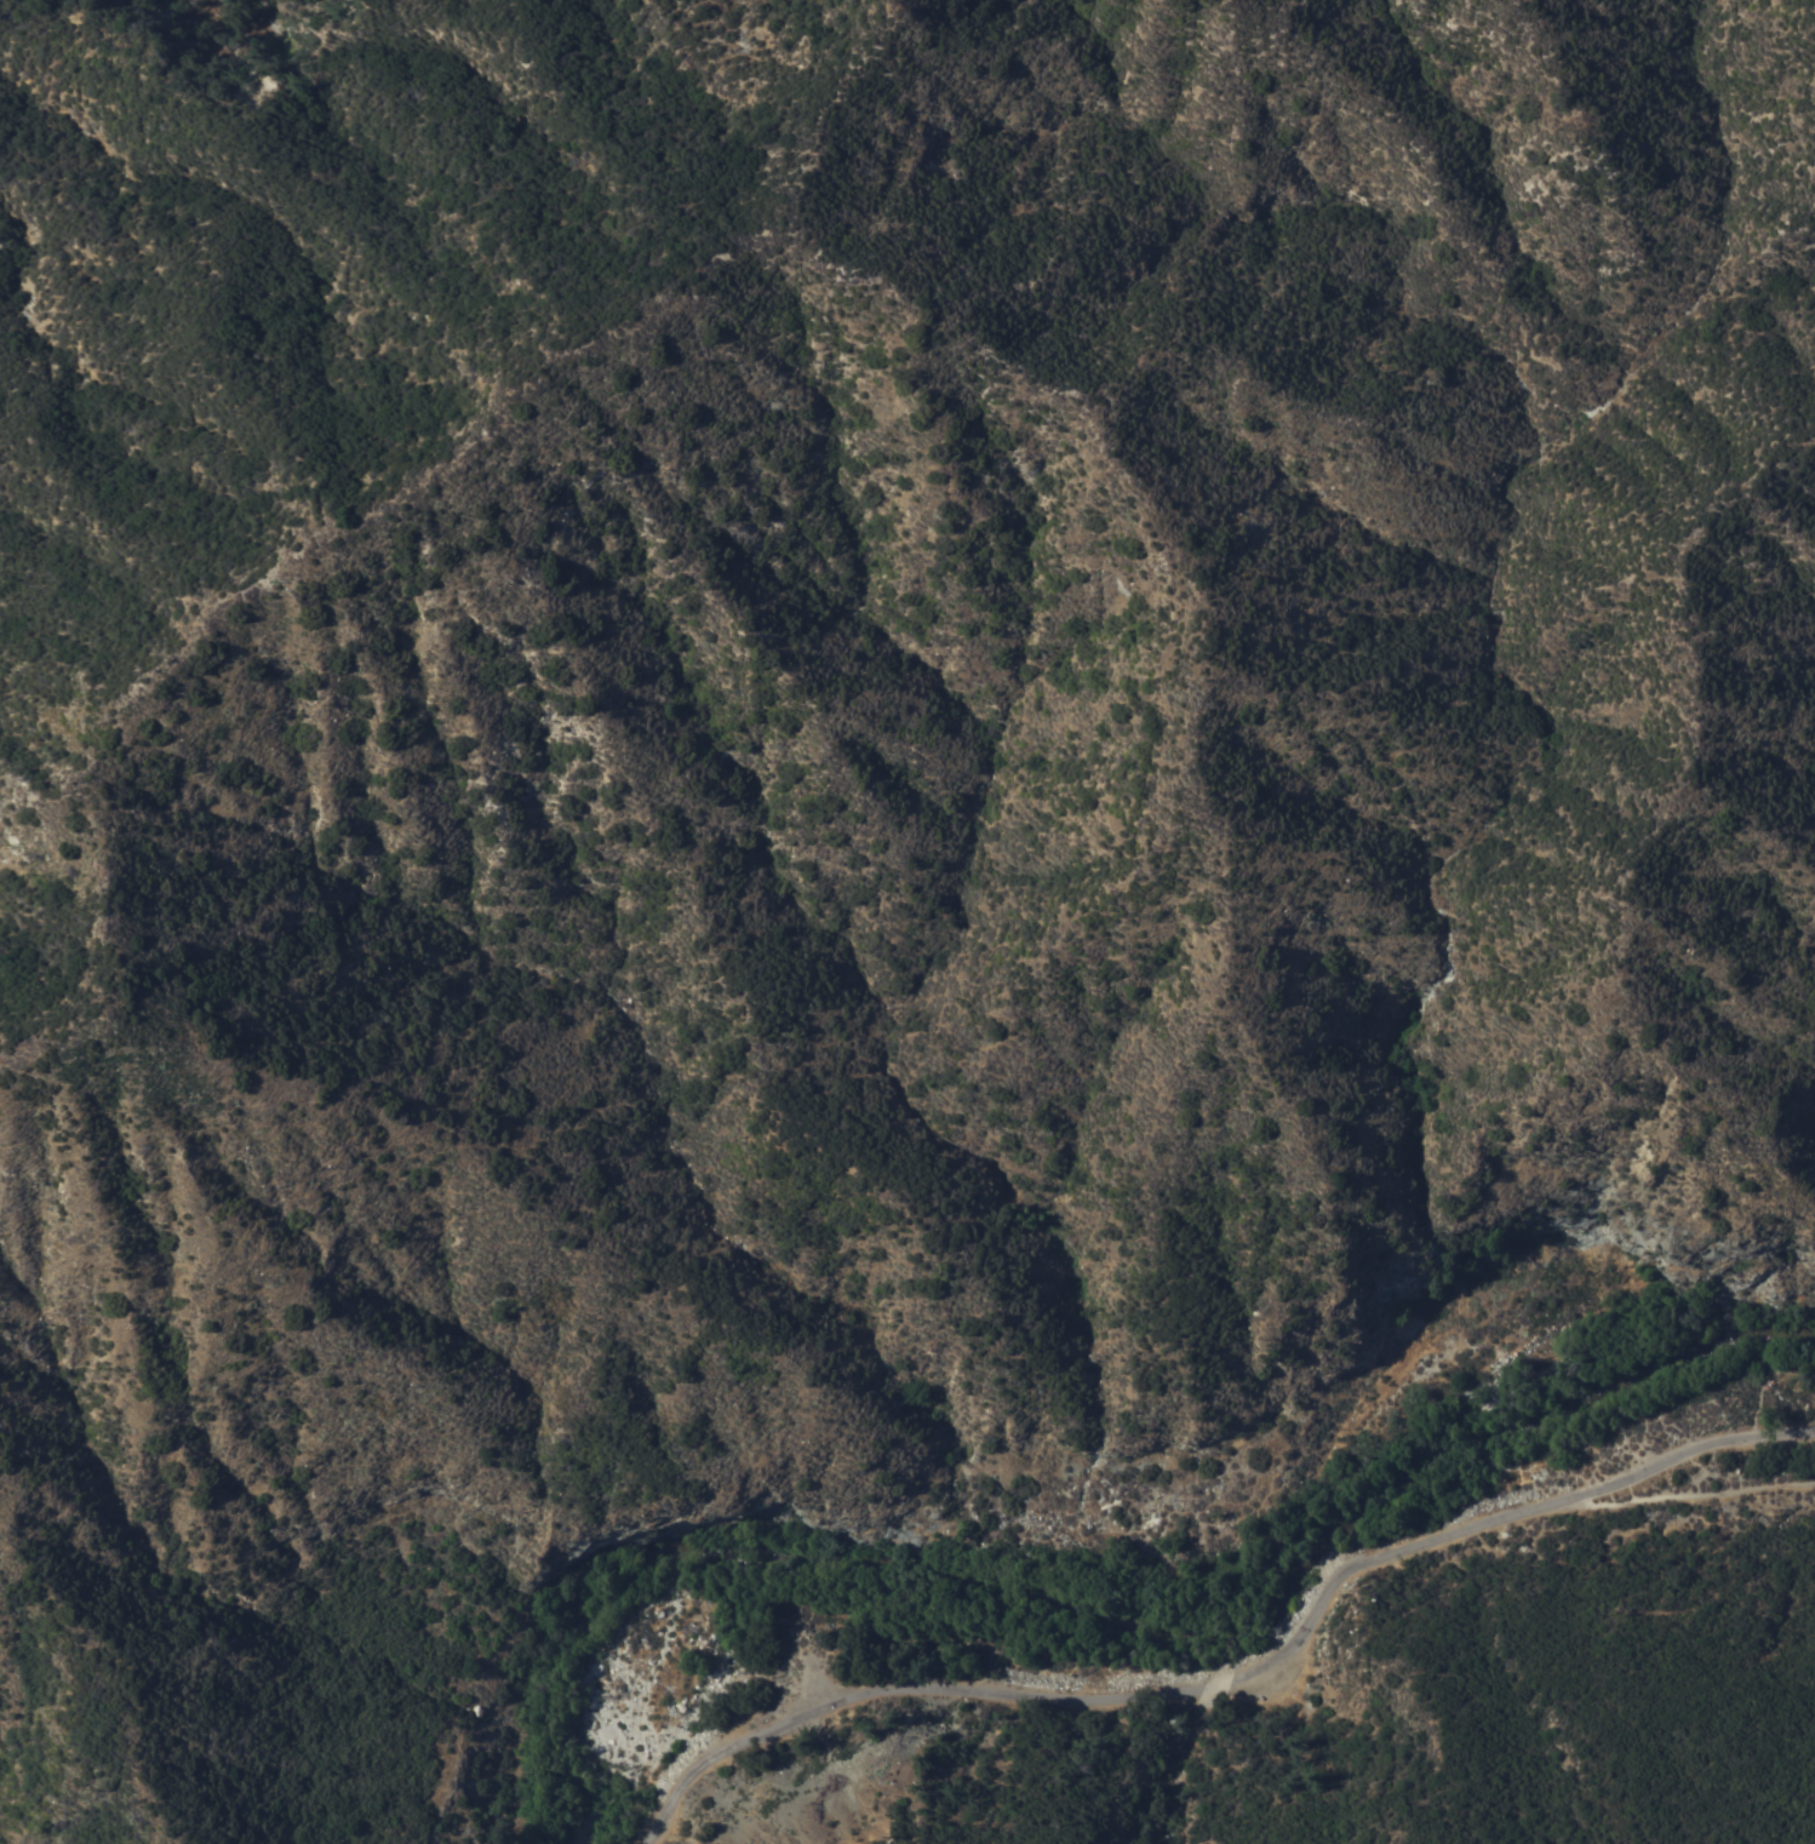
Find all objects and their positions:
road: (1695, 1494)
river: (1123, 1616)
road: (1238, 1688)

